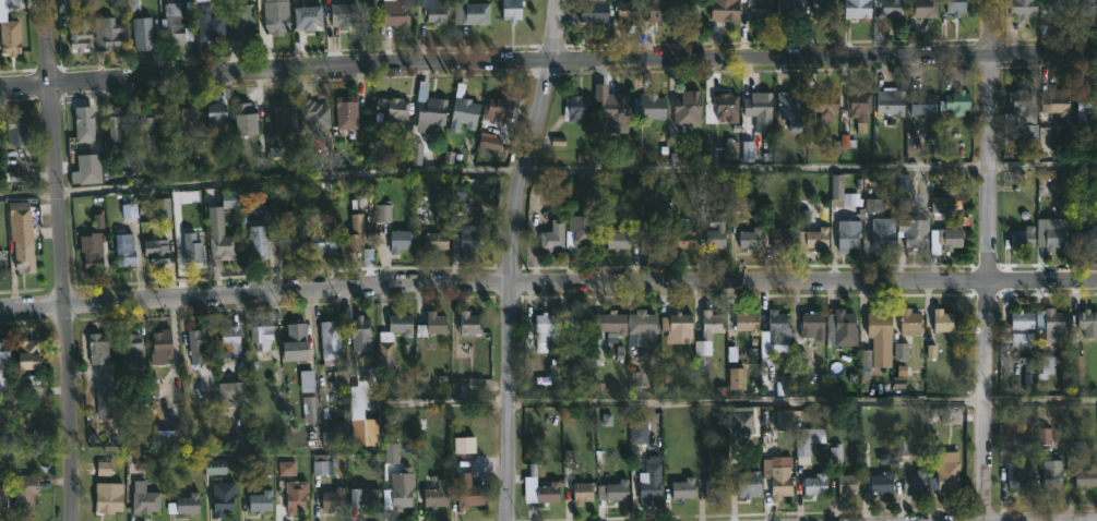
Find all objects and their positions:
building: (955, 7)
building: (1058, 7)
building: (689, 8)
building: (759, 8)
building: (857, 8)
building: (1085, 8)
building: (789, 9)
building: (821, 9)
building: (892, 9)
building: (923, 9)
building: (1023, 9)
building: (511, 10)
building: (593, 10)
building: (658, 10)
building: (724, 10)
building: (434, 11)
building: (395, 12)
building: (470, 12)
building: (343, 14)
building: (629, 15)
building: (275, 16)
building: (307, 17)
building: (243, 21)
building: (207, 22)
building: (174, 24)
building: (106, 33)
building: (141, 33)
building: (79, 35)
building: (10, 37)
road: (548, 58)
building: (891, 101)
building: (955, 101)
building: (1056, 101)
building: (922, 102)
building: (687, 104)
building: (758, 104)
building: (858, 104)
building: (823, 105)
building: (726, 106)
building: (788, 106)
building: (575, 107)
building: (648, 107)
building: (1086, 107)
building: (393, 108)
building: (499, 108)
building: (1020, 108)
building: (428, 109)
building: (462, 110)
building: (346, 111)
building: (313, 113)
building: (611, 113)
building: (282, 114)
building: (217, 118)
building: (243, 119)
building: (182, 121)
building: (115, 122)
building: (83, 125)
building: (145, 125)
building: (13, 126)
building: (16, 135)
building: (1051, 138)
road: (548, 173)
building: (840, 193)
building: (20, 211)
building: (911, 226)
building: (716, 227)
building: (580, 230)
building: (648, 230)
building: (291, 231)
building: (683, 234)
building: (848, 234)
building: (218, 235)
building: (552, 237)
building: (1024, 237)
building: (1084, 237)
building: (816, 238)
building: (1051, 238)
building: (751, 239)
building: (782, 239)
building: (882, 239)
building: (356, 240)
building: (398, 240)
building: (436, 240)
building: (468, 240)
building: (617, 240)
building: (945, 240)
building: (257, 242)
building: (322, 242)
building: (190, 249)
building: (123, 250)
building: (92, 251)
building: (155, 252)
building: (22, 255)
road: (510, 257)
road: (62, 259)
road: (988, 259)
building: (1, 262)
road: (548, 282)
building: (909, 320)
building: (942, 320)
building: (468, 323)
building: (576, 323)
building: (677, 323)
building: (747, 323)
building: (1087, 323)
building: (710, 324)
building: (1051, 324)
building: (431, 325)
building: (880, 325)
building: (545, 326)
building: (611, 326)
building: (811, 326)
building: (1022, 326)
building: (843, 328)
building: (642, 330)
building: (779, 330)
building: (359, 334)
building: (329, 340)
building: (391, 340)
building: (294, 341)
building: (228, 342)
building: (195, 344)
building: (259, 344)
building: (130, 347)
building: (160, 347)
building: (97, 349)
building: (32, 350)
building: (3, 352)
building: (32, 378)
building: (308, 383)
building: (234, 390)
building: (105, 401)
road: (803, 404)
building: (176, 409)
building: (310, 412)
building: (741, 423)
building: (637, 432)
building: (167, 437)
building: (804, 444)
building: (216, 467)
building: (946, 471)
building: (1018, 475)
building: (1053, 475)
building: (1086, 476)
building: (777, 480)
building: (649, 481)
building: (915, 482)
building: (847, 483)
building: (879, 483)
building: (747, 484)
building: (814, 484)
building: (538, 486)
building: (398, 487)
building: (682, 488)
building: (714, 489)
building: (612, 490)
building: (466, 492)
building: (23, 493)
building: (582, 493)
building: (434, 495)
building: (2, 496)
building: (295, 496)
building: (360, 496)
building: (222, 498)
building: (332, 499)
building: (260, 501)
building: (107, 502)
building: (144, 502)
building: (182, 505)
road: (1093, 520)

